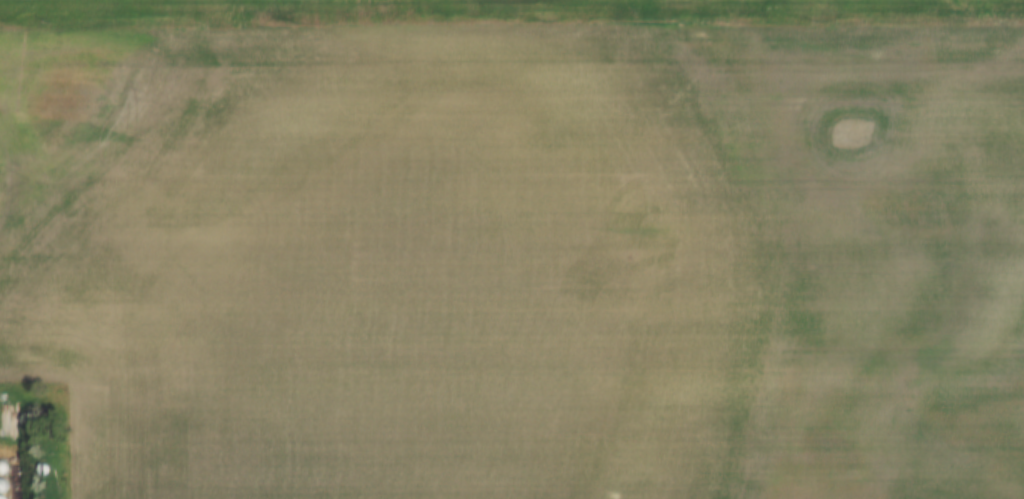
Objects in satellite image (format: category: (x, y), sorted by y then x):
building: (5, 463)
silo: (5, 463)
building: (5, 481)
silo: (5, 481)
building: (4, 496)
silo: (4, 496)

